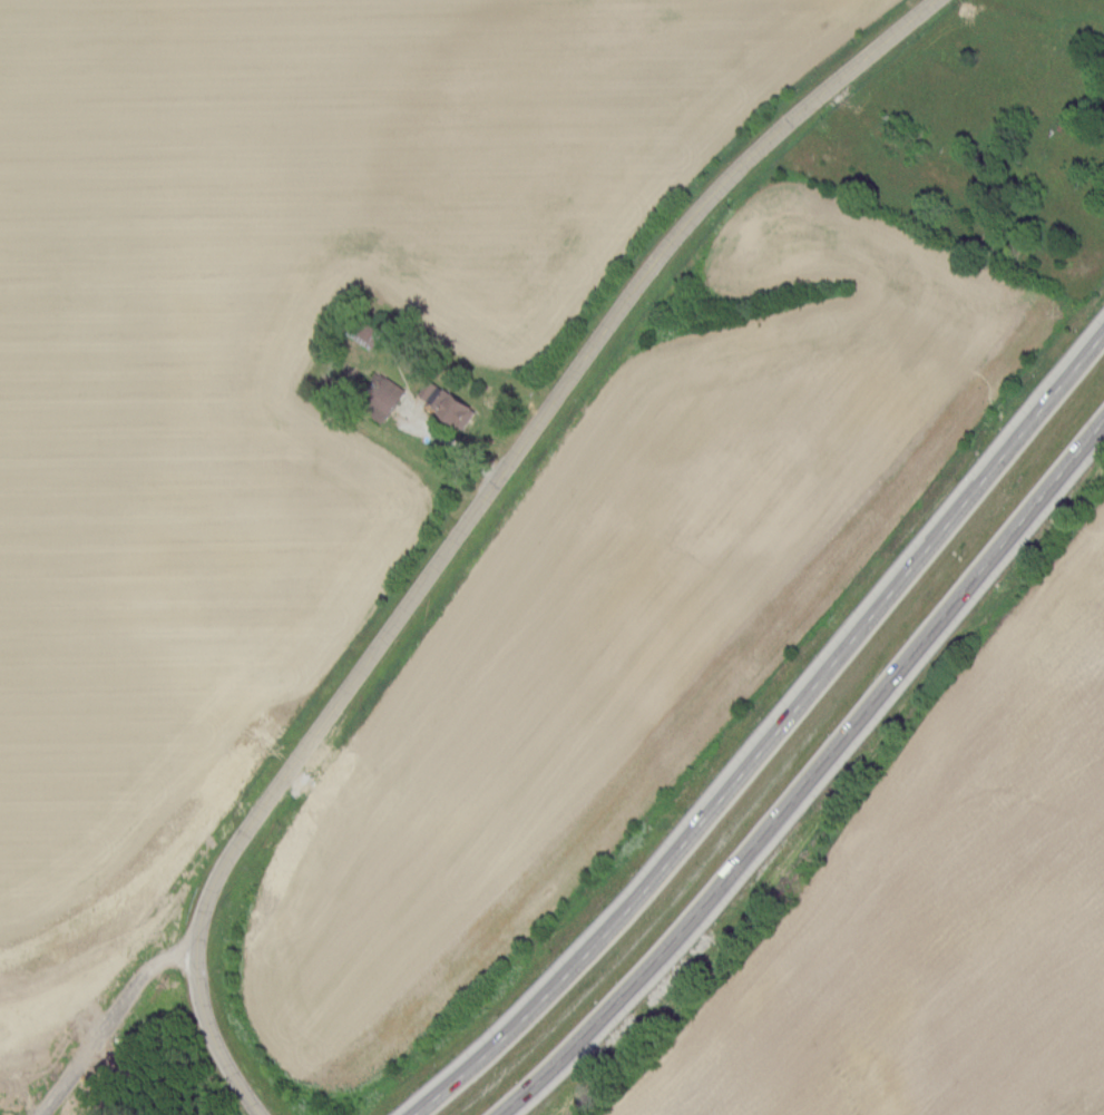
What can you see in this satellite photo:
road: (575, 362)
building: (384, 399)
building: (449, 404)
road: (771, 734)
road: (810, 773)
road: (160, 923)

